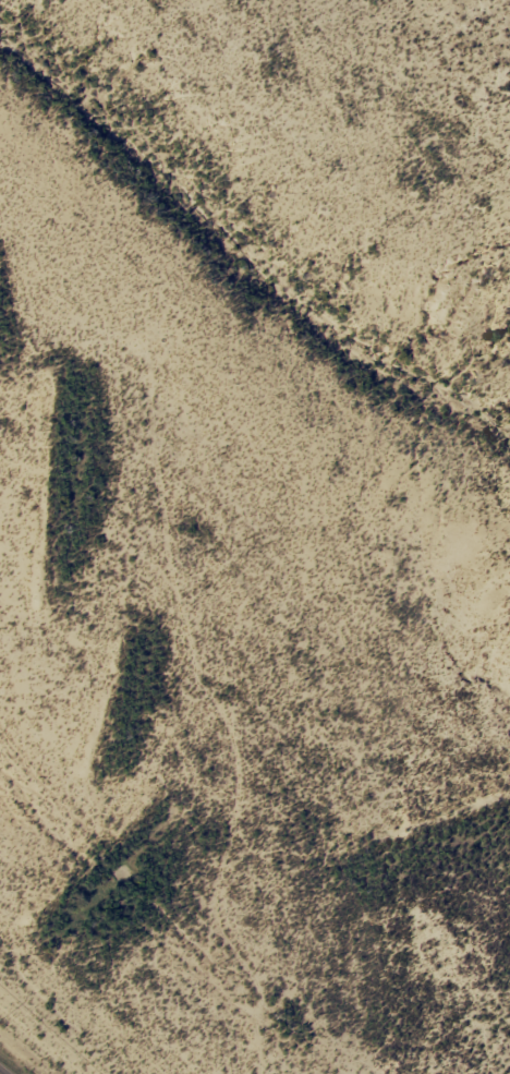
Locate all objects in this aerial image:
road: (2, 1072)

